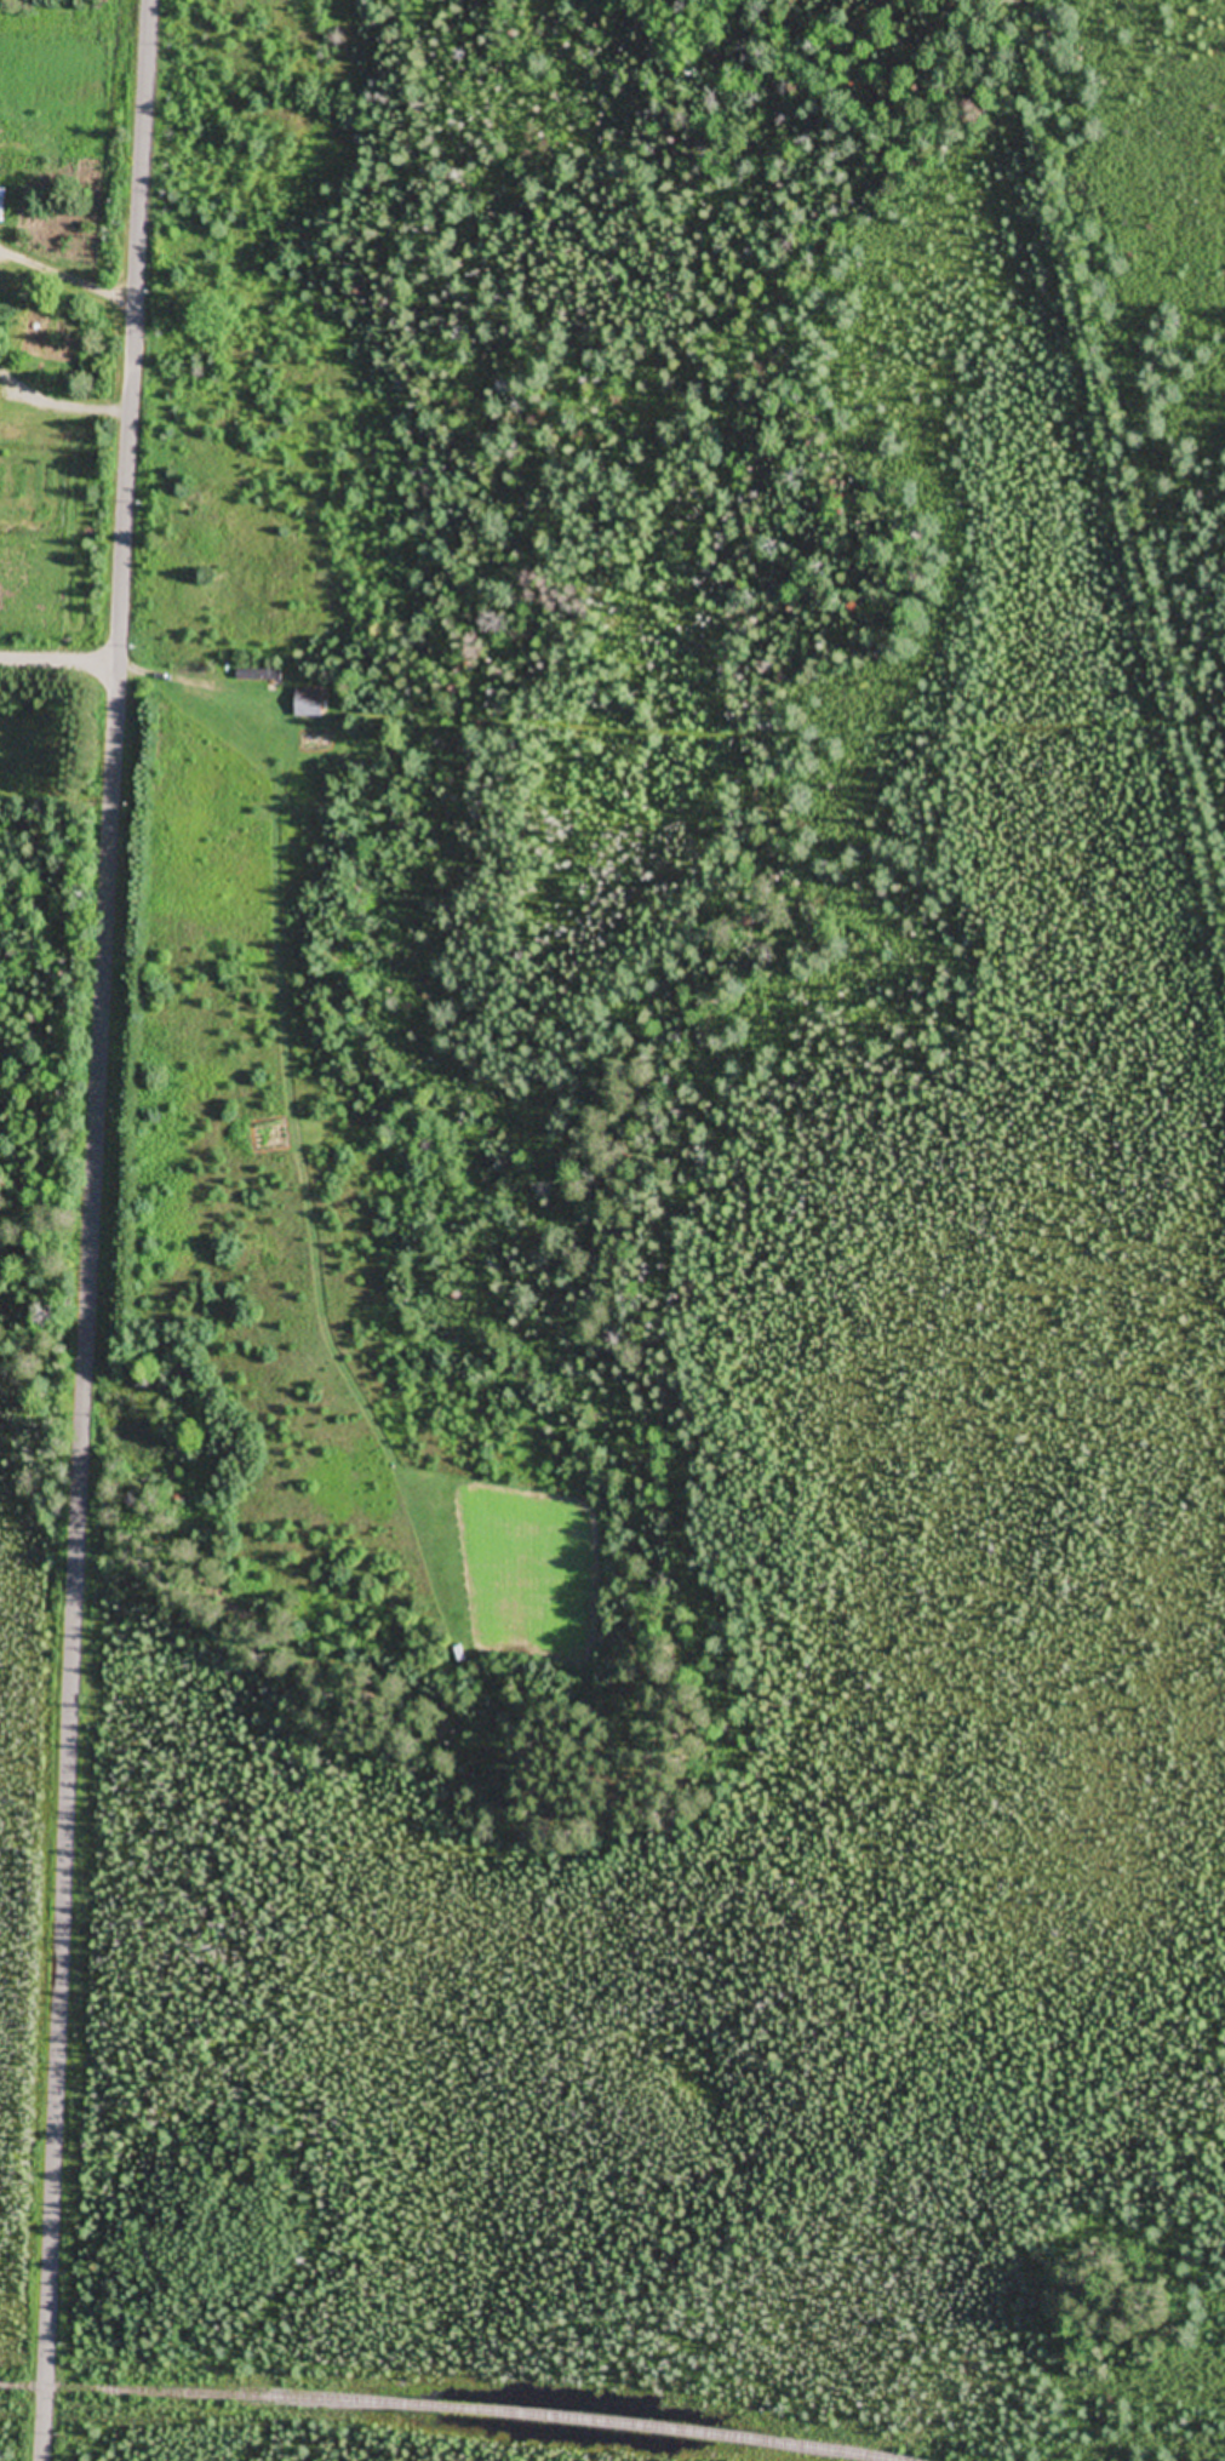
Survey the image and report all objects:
building: (6, 205)
road: (59, 664)
building: (310, 703)
road: (95, 1230)
railway: (439, 2409)

